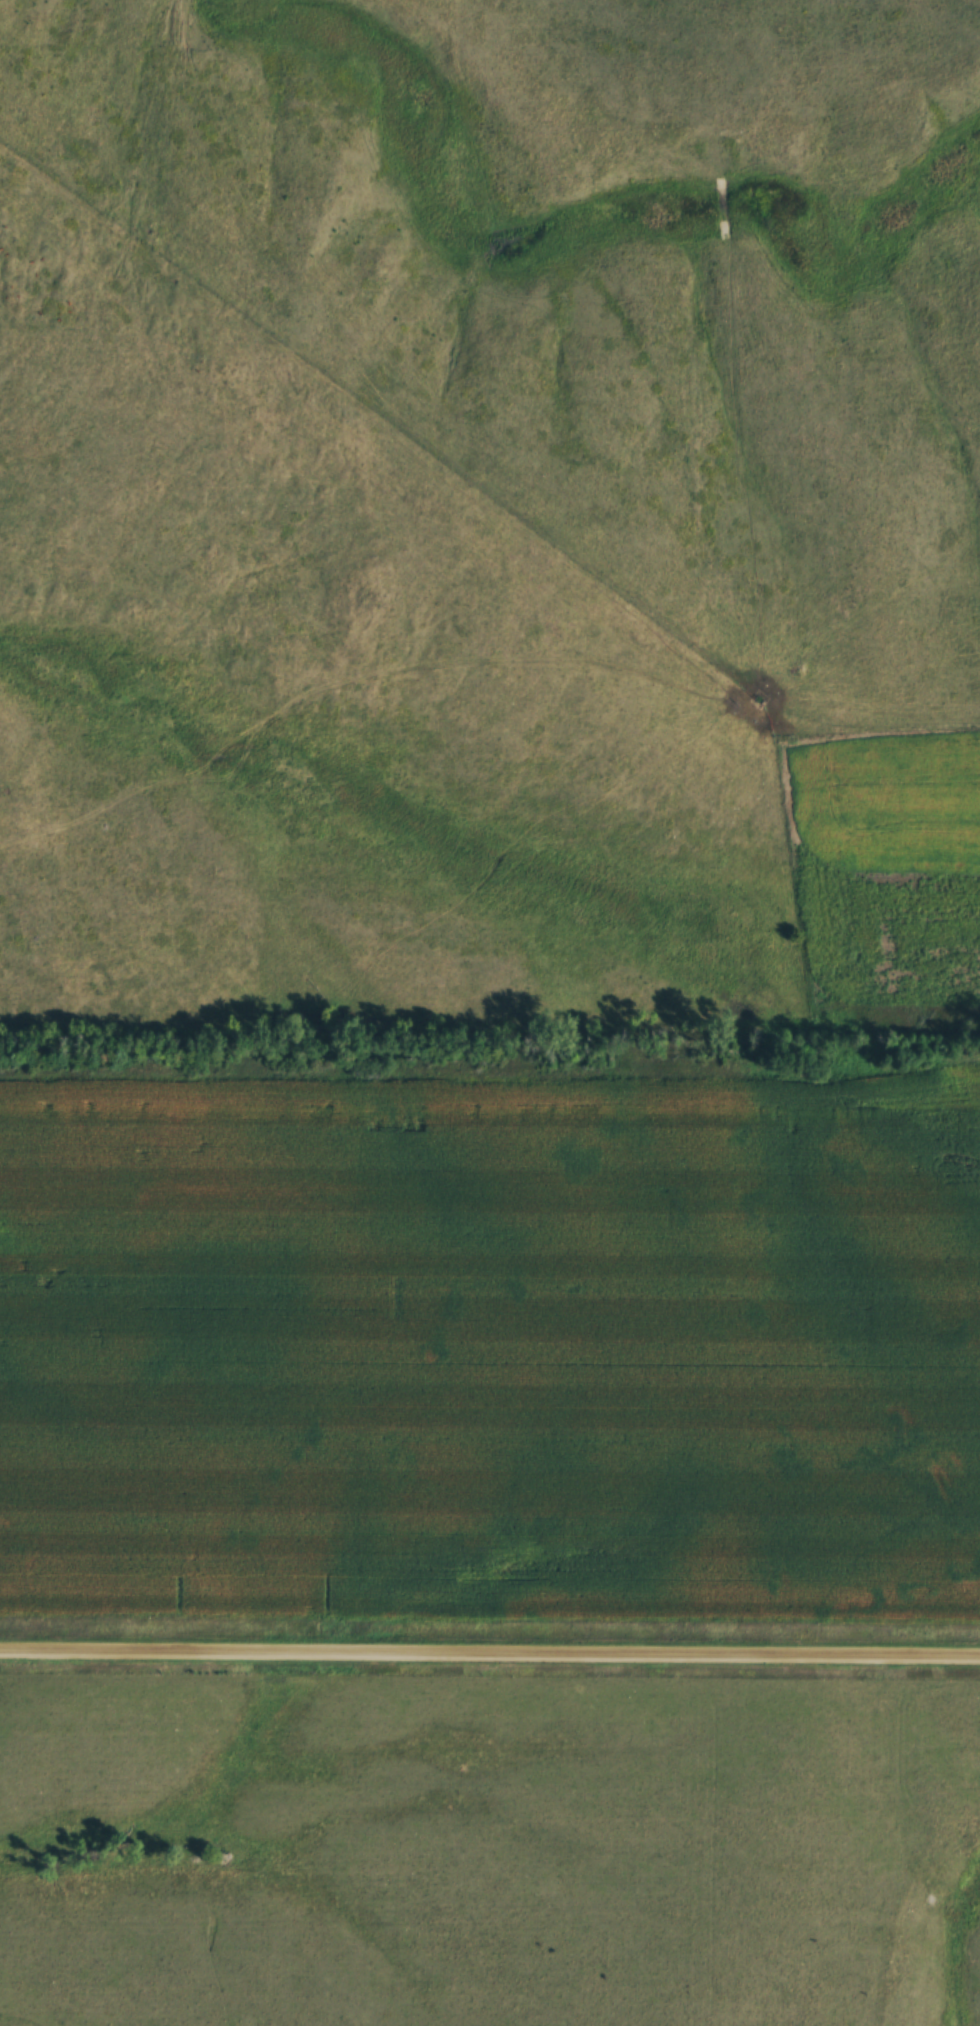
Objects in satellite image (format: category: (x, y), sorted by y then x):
road: (489, 1656)

